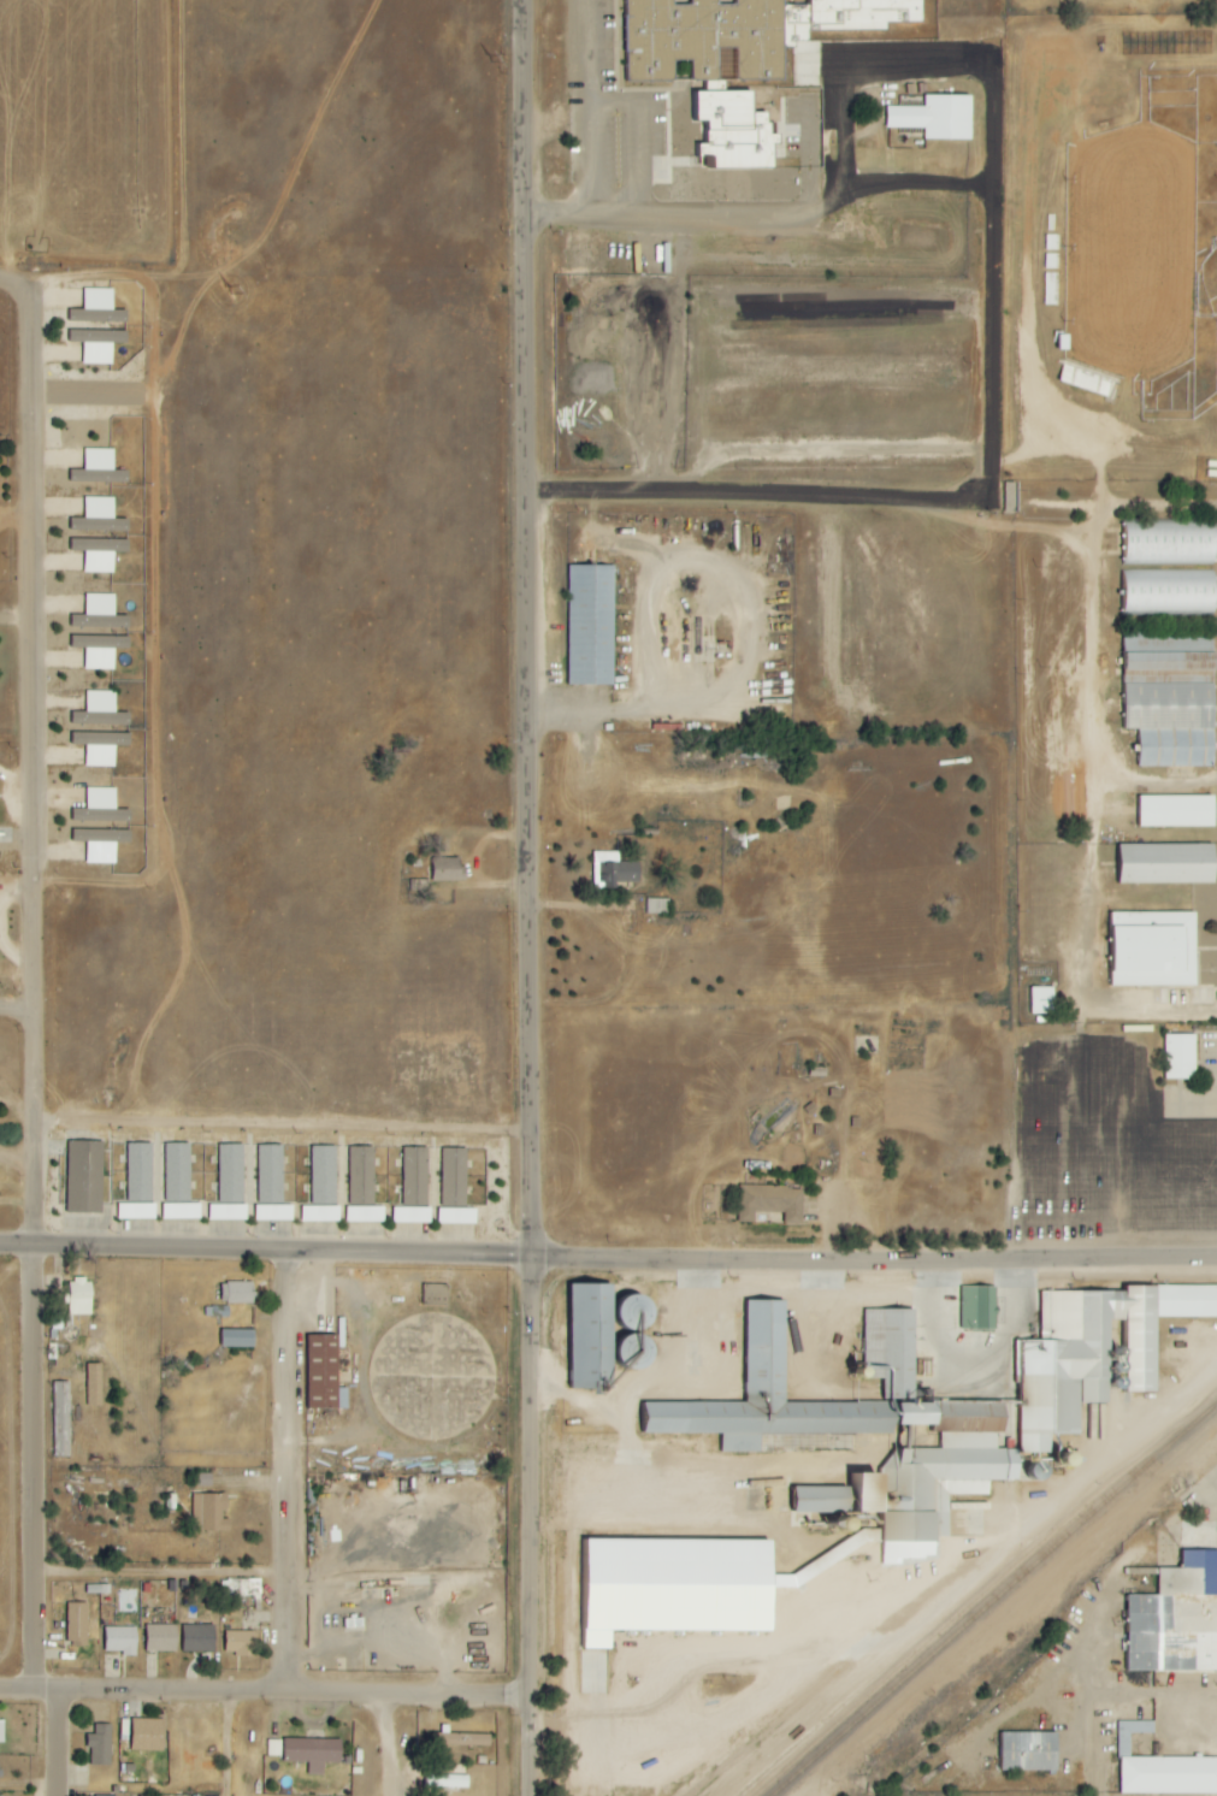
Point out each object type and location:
building: (739, 31)
power tower: (486, 57)
building: (935, 117)
building: (735, 130)
power tower: (225, 289)
building: (98, 308)
building: (98, 326)
road: (993, 335)
building: (98, 344)
road: (35, 368)
building: (99, 468)
building: (99, 516)
building: (1168, 542)
building: (99, 554)
building: (1166, 592)
building: (100, 614)
building: (591, 625)
building: (98, 632)
building: (100, 650)
building: (1166, 657)
building: (1169, 705)
building: (100, 710)
building: (1176, 746)
building: (100, 748)
building: (101, 808)
building: (1177, 811)
building: (101, 844)
building: (1168, 863)
building: (449, 870)
building: (613, 870)
road: (536, 898)
building: (1153, 950)
building: (1042, 1000)
road: (1148, 1006)
road: (19, 1011)
building: (1181, 1057)
road: (1098, 1062)
road: (35, 1083)
road: (286, 1117)
building: (140, 1172)
building: (178, 1172)
building: (231, 1174)
building: (270, 1174)
building: (361, 1175)
building: (84, 1176)
building: (323, 1186)
building: (414, 1187)
building: (455, 1189)
building: (770, 1203)
building: (136, 1211)
building: (181, 1211)
building: (228, 1212)
building: (273, 1212)
building: (365, 1213)
road: (608, 1259)
road: (903, 1289)
building: (237, 1293)
building: (436, 1294)
building: (81, 1296)
building: (974, 1307)
building: (636, 1311)
building: (591, 1335)
building: (238, 1339)
building: (1092, 1352)
road: (968, 1358)
building: (324, 1373)
building: (94, 1384)
building: (61, 1419)
building: (864, 1426)
road: (285, 1472)
building: (205, 1481)
building: (823, 1500)
building: (211, 1512)
railway: (1051, 1536)
road: (158, 1575)
road: (964, 1576)
building: (680, 1587)
railway: (992, 1599)
building: (77, 1624)
building: (1170, 1625)
building: (161, 1638)
building: (199, 1638)
building: (120, 1641)
building: (240, 1643)
road: (14, 1686)
road: (42, 1688)
road: (296, 1691)
railway: (822, 1733)
building: (148, 1735)
building: (469, 1739)
road: (54, 1742)
road: (225, 1743)
building: (100, 1745)
road: (390, 1745)
building: (273, 1748)
building: (1026, 1750)
building: (313, 1753)
building: (1160, 1768)
building: (447, 1782)

